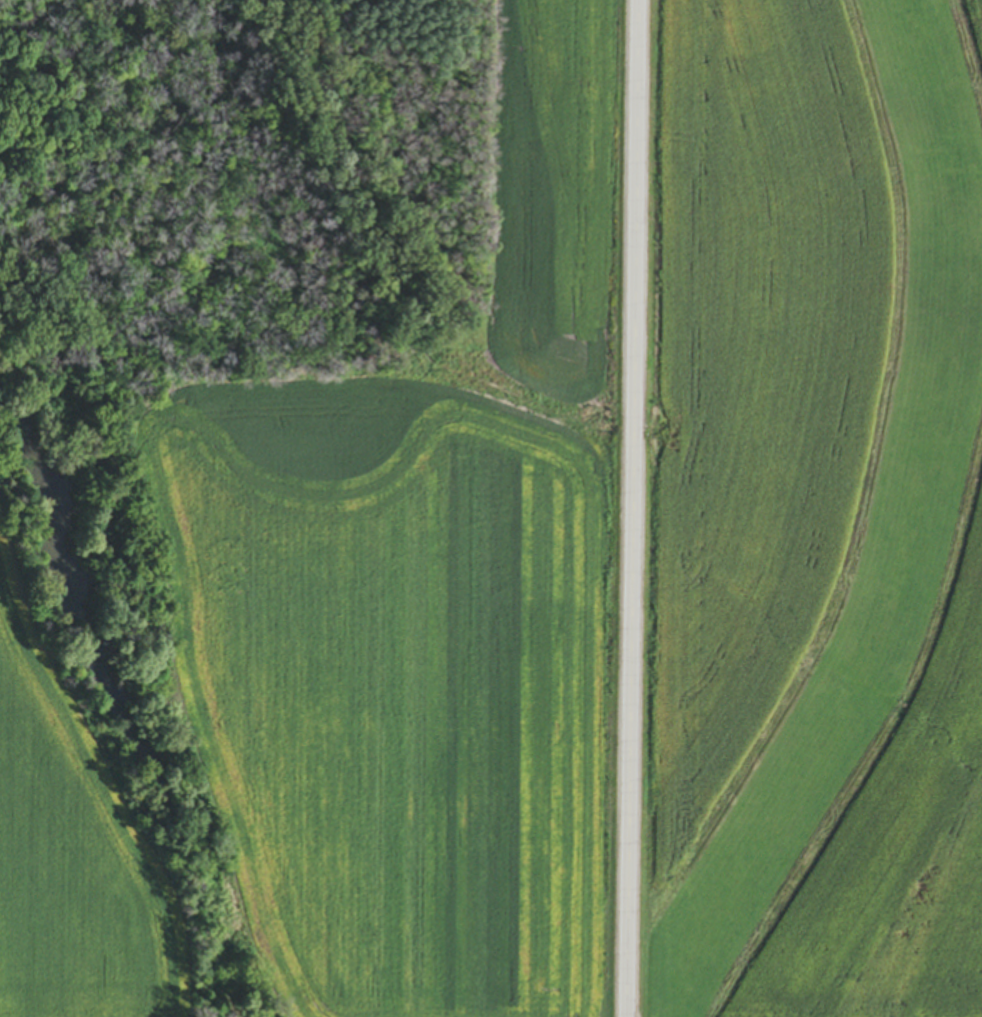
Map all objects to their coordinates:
road: (630, 508)

